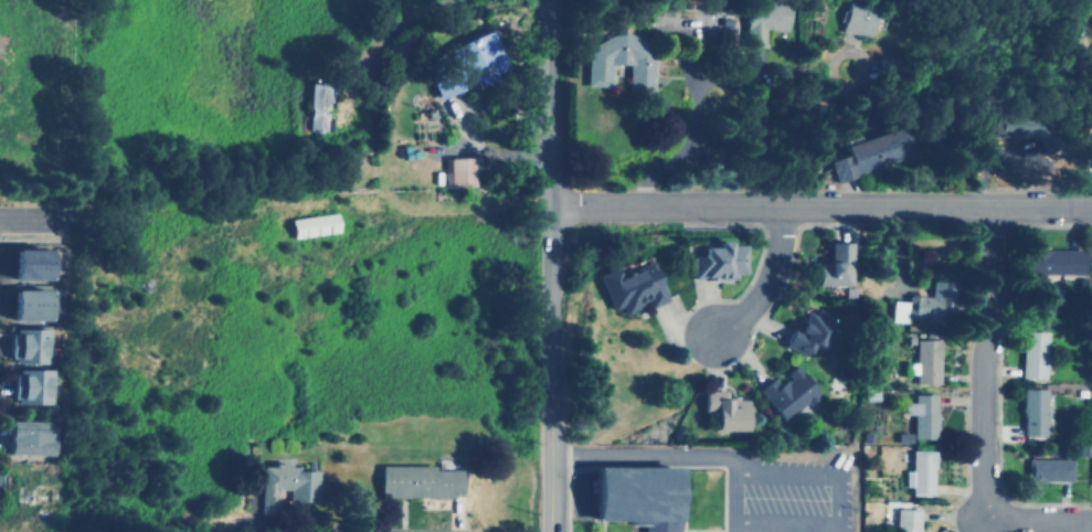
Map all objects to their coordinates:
building: (850, 17)
building: (757, 18)
building: (614, 60)
building: (459, 63)
building: (318, 107)
building: (1010, 126)
building: (1089, 147)
building: (861, 152)
building: (459, 172)
road: (820, 205)
road: (32, 217)
building: (312, 225)
building: (708, 260)
building: (26, 262)
building: (1052, 263)
road: (551, 265)
building: (826, 265)
road: (764, 280)
building: (624, 287)
building: (920, 298)
building: (26, 301)
building: (802, 330)
building: (29, 344)
building: (1029, 354)
road: (979, 363)
building: (921, 366)
building: (32, 384)
building: (782, 392)
building: (720, 409)
building: (1029, 412)
building: (920, 416)
building: (29, 436)
road: (649, 455)
road: (700, 466)
building: (1046, 470)
building: (916, 472)
road: (810, 478)
building: (417, 480)
building: (285, 483)
building: (634, 494)
road: (568, 500)
road: (729, 504)
road: (431, 511)
road: (1033, 520)
building: (897, 521)
road: (602, 525)
road: (784, 526)

